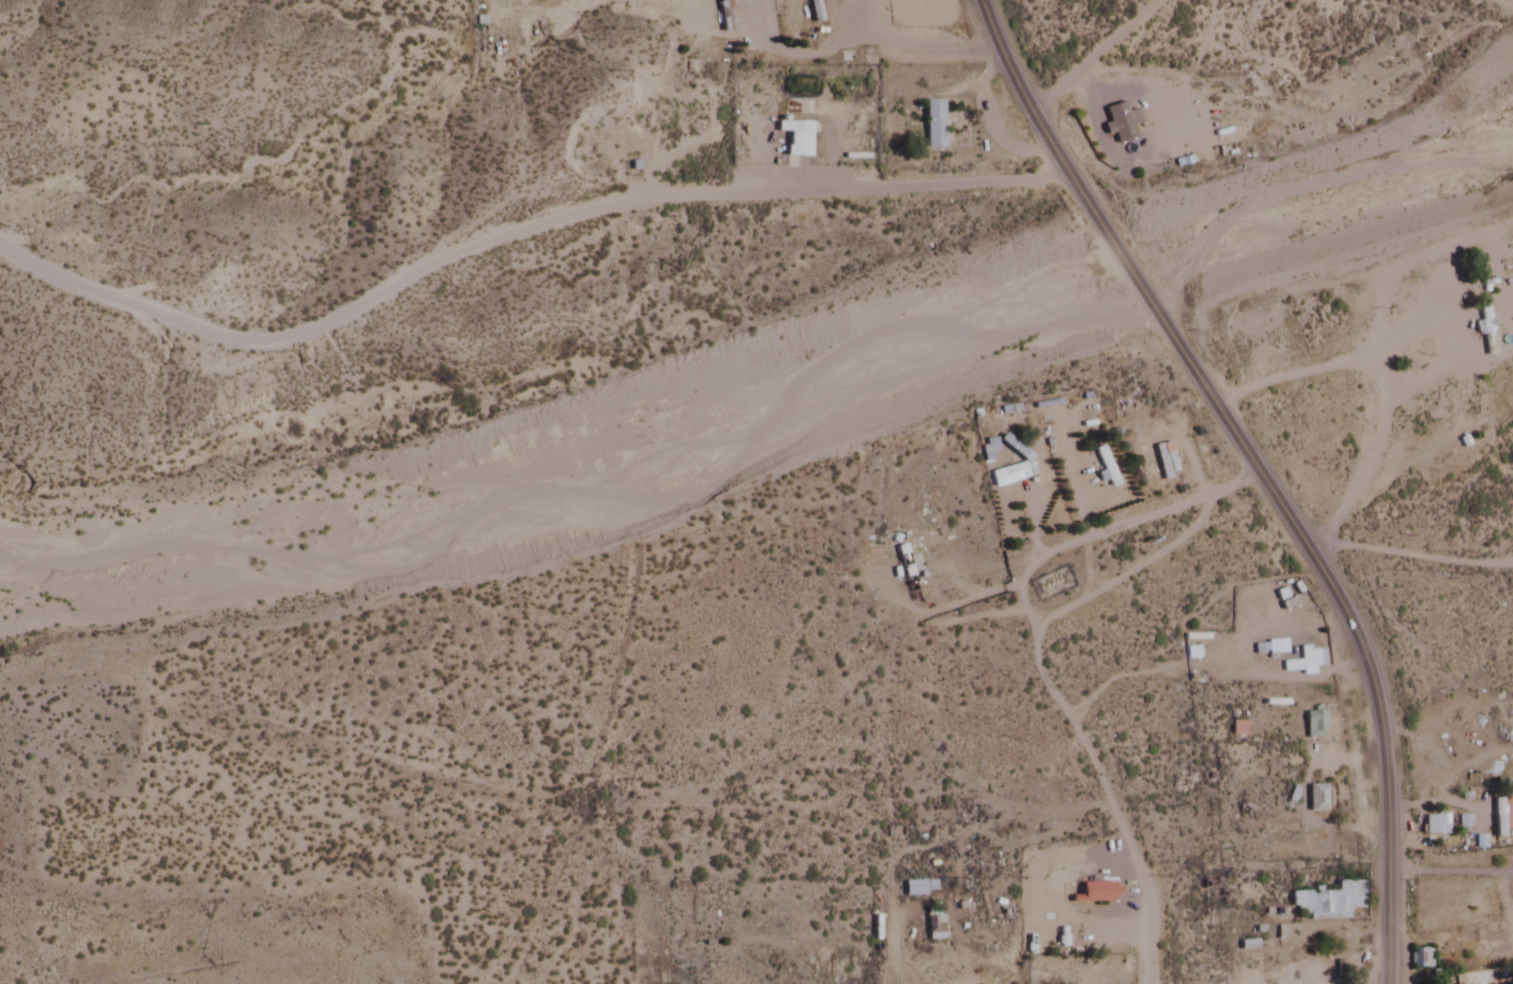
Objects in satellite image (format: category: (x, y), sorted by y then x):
building: (814, 11)
building: (723, 18)
road: (1088, 56)
building: (932, 124)
building: (794, 137)
road: (510, 231)
building: (1486, 332)
building: (1421, 417)
building: (987, 449)
building: (1164, 460)
building: (1105, 466)
road: (1249, 469)
building: (1006, 471)
building: (905, 569)
building: (1191, 652)
building: (1304, 660)
road: (1036, 664)
building: (1313, 725)
building: (1236, 729)
building: (1315, 799)
building: (1501, 819)
building: (1434, 825)
building: (916, 888)
building: (1094, 893)
building: (1328, 902)
building: (934, 925)
building: (1049, 925)
building: (1420, 959)
building: (1055, 972)

